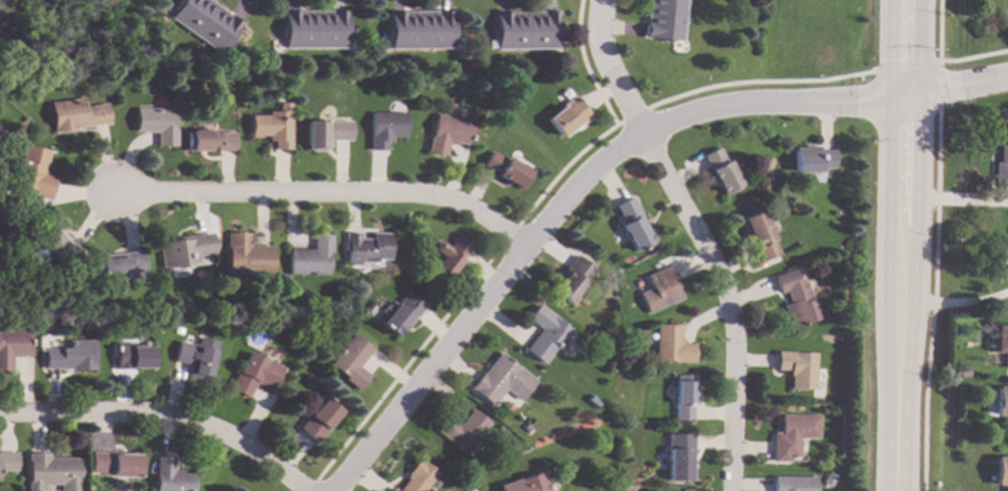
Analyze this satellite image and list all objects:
road: (901, 6)
road: (902, 6)
building: (663, 19)
building: (204, 22)
building: (312, 29)
building: (418, 29)
building: (525, 30)
road: (953, 90)
building: (74, 114)
building: (567, 116)
building: (155, 124)
building: (270, 128)
building: (384, 128)
building: (324, 132)
building: (448, 132)
building: (207, 141)
building: (1001, 154)
building: (811, 159)
building: (506, 170)
building: (720, 172)
building: (30, 174)
road: (322, 197)
road: (560, 202)
building: (0, 209)
building: (631, 225)
building: (758, 235)
road: (692, 237)
building: (56, 246)
building: (365, 247)
building: (183, 249)
road: (896, 251)
building: (448, 256)
building: (245, 257)
building: (310, 257)
building: (1001, 263)
building: (119, 266)
building: (571, 280)
building: (658, 290)
building: (793, 299)
building: (402, 313)
building: (307, 314)
building: (176, 329)
building: (545, 334)
building: (299, 336)
building: (1000, 341)
building: (670, 345)
building: (12, 346)
building: (70, 356)
building: (131, 356)
building: (196, 357)
building: (351, 360)
building: (796, 368)
building: (961, 372)
building: (254, 375)
building: (307, 380)
building: (501, 380)
building: (682, 397)
building: (592, 401)
building: (1001, 404)
road: (158, 415)
building: (318, 418)
building: (527, 429)
building: (462, 431)
building: (792, 435)
building: (511, 445)
building: (678, 457)
building: (7, 461)
building: (114, 464)
building: (51, 472)
building: (1000, 472)
building: (169, 476)
building: (416, 478)
building: (828, 479)
building: (793, 483)
building: (524, 484)
building: (391, 490)

